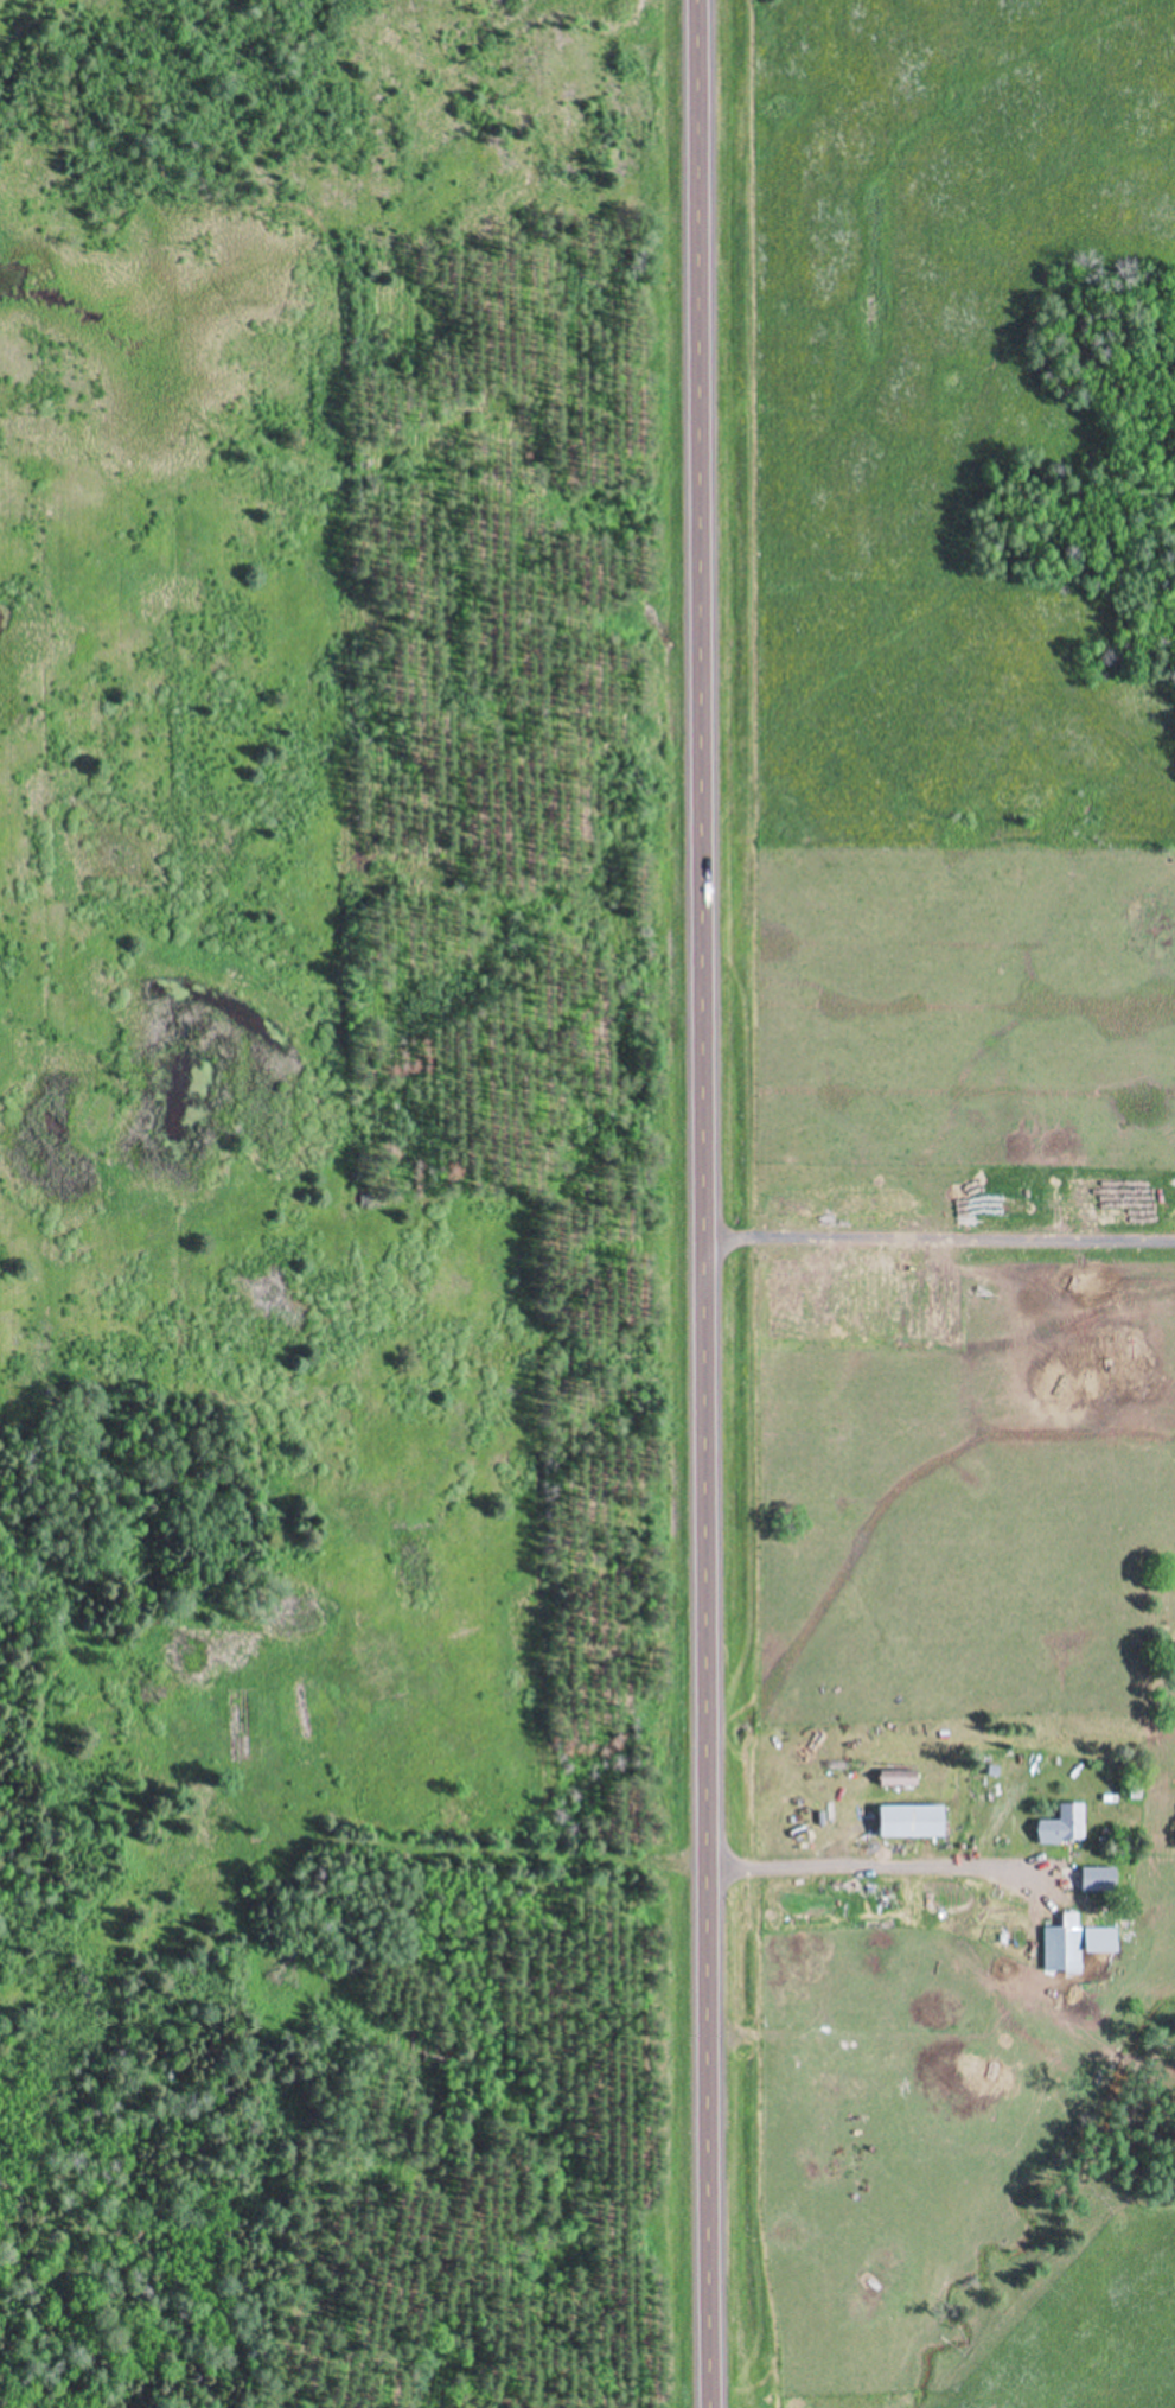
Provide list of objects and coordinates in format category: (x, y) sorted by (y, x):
road: (704, 1204)
building: (899, 1779)
building: (912, 1822)
building: (1064, 1828)
building: (1098, 1881)
building: (1100, 1939)
building: (1062, 1947)

